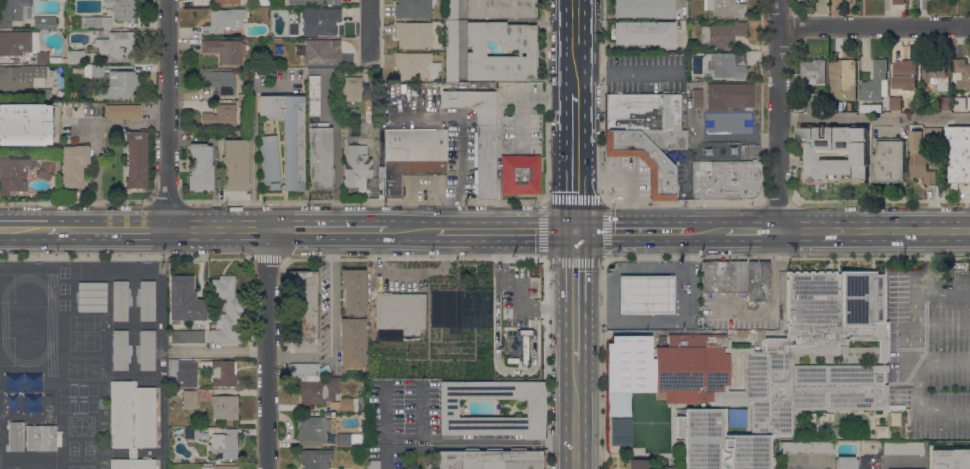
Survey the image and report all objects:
building: (895, 0)
building: (226, 2)
building: (314, 2)
building: (725, 7)
building: (413, 8)
building: (500, 8)
building: (644, 8)
building: (121, 9)
building: (451, 10)
building: (13, 11)
building: (225, 20)
building: (320, 20)
building: (45, 22)
building: (91, 22)
road: (875, 25)
building: (293, 29)
building: (645, 33)
building: (414, 34)
building: (721, 34)
building: (117, 43)
road: (575, 45)
building: (25, 46)
building: (225, 50)
building: (452, 51)
building: (527, 51)
road: (370, 52)
building: (318, 53)
building: (75, 57)
building: (725, 65)
building: (415, 66)
building: (93, 71)
road: (627, 71)
building: (813, 71)
building: (936, 73)
building: (961, 73)
building: (905, 74)
building: (18, 77)
building: (844, 78)
building: (219, 81)
building: (122, 82)
building: (876, 82)
building: (928, 88)
building: (352, 89)
building: (85, 92)
building: (42, 94)
building: (314, 95)
building: (729, 95)
building: (243, 96)
building: (697, 98)
building: (815, 102)
building: (895, 103)
building: (944, 103)
building: (961, 103)
building: (873, 107)
building: (85, 109)
building: (122, 111)
building: (361, 113)
road: (166, 114)
road: (779, 114)
building: (221, 116)
building: (648, 117)
road: (874, 117)
road: (119, 123)
building: (26, 124)
building: (479, 135)
road: (737, 135)
road: (461, 136)
building: (960, 153)
building: (834, 154)
building: (924, 154)
building: (411, 156)
building: (320, 157)
building: (136, 159)
building: (889, 159)
building: (293, 160)
road: (575, 160)
building: (644, 160)
building: (74, 165)
building: (235, 165)
building: (356, 165)
building: (48, 167)
building: (200, 167)
building: (15, 171)
building: (520, 174)
road: (97, 176)
building: (725, 179)
road: (776, 200)
road: (880, 200)
road: (543, 201)
road: (682, 201)
road: (505, 229)
traffic signals: (575, 229)
road: (631, 229)
road: (706, 229)
road: (752, 229)
road: (874, 229)
road: (23, 230)
road: (106, 230)
road: (217, 230)
road: (327, 230)
road: (411, 230)
road: (929, 260)
road: (648, 267)
building: (940, 274)
road: (612, 279)
building: (737, 279)
road: (519, 287)
road: (593, 289)
building: (354, 290)
road: (944, 292)
gas station: (646, 293)
road: (575, 294)
building: (646, 294)
road: (775, 294)
building: (92, 296)
road: (331, 296)
building: (185, 300)
building: (120, 301)
building: (147, 301)
building: (227, 311)
building: (302, 311)
building: (400, 312)
road: (676, 321)
building: (749, 333)
building: (187, 335)
building: (662, 340)
building: (352, 342)
road: (266, 349)
building: (120, 350)
building: (147, 350)
road: (918, 354)
building: (173, 368)
building: (767, 370)
building: (212, 371)
building: (347, 372)
building: (319, 387)
building: (173, 394)
building: (49, 397)
building: (189, 398)
building: (224, 407)
building: (535, 408)
road: (421, 411)
road: (920, 412)
road: (576, 414)
building: (131, 415)
building: (909, 424)
building: (312, 430)
building: (619, 431)
building: (192, 432)
building: (15, 435)
building: (41, 437)
road: (457, 438)
building: (349, 439)
building: (226, 446)
road: (489, 446)
building: (806, 447)
building: (902, 448)
building: (132, 453)
road: (387, 453)
building: (314, 458)
building: (491, 459)
building: (951, 459)
building: (846, 462)
building: (132, 463)
building: (373, 464)
building: (638, 464)
building: (220, 467)
building: (672, 467)

